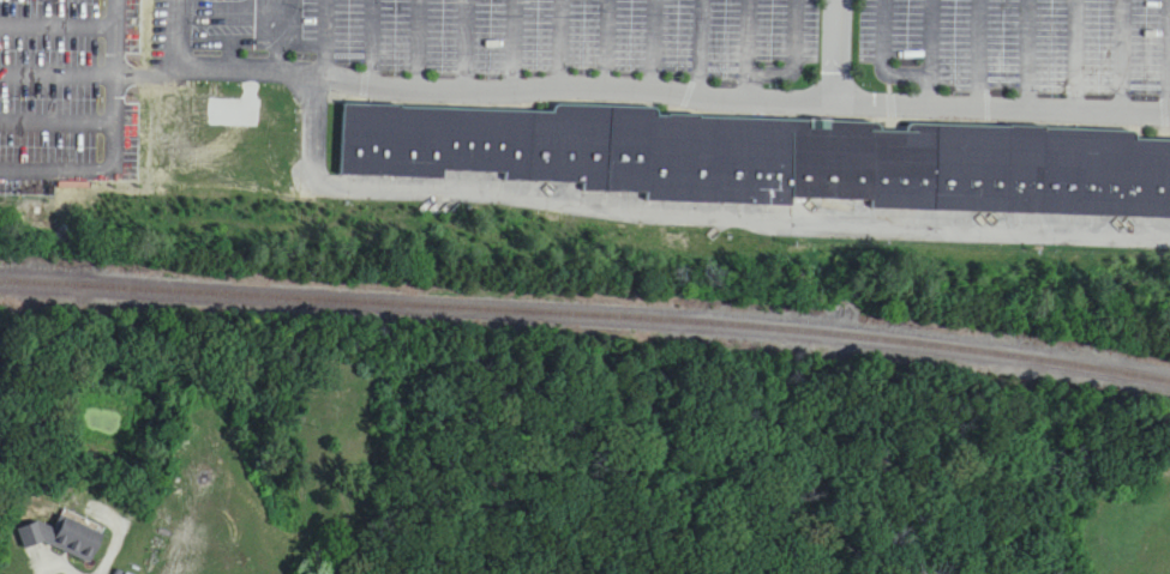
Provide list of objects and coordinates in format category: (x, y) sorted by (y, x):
road: (60, 20)
road: (282, 32)
road: (515, 40)
road: (744, 50)
road: (839, 55)
road: (982, 56)
road: (1122, 59)
road: (92, 74)
road: (120, 84)
road: (643, 90)
road: (60, 122)
building: (770, 158)
road: (60, 168)
road: (656, 212)
railway: (586, 301)
park: (1118, 516)
building: (65, 538)
road: (56, 564)

